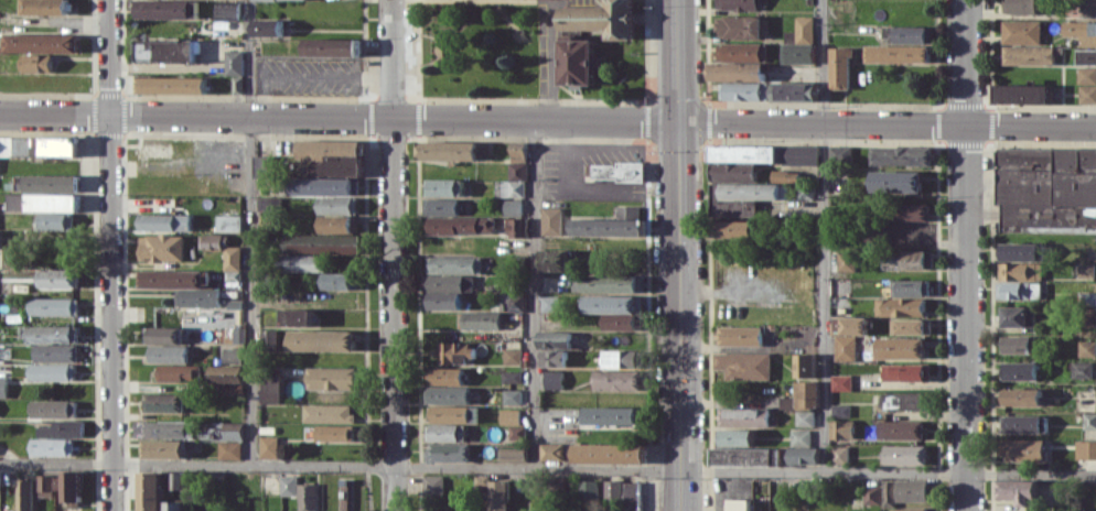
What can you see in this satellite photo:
building: (280, 0)
building: (741, 4)
building: (44, 7)
building: (1023, 7)
building: (1086, 8)
building: (168, 9)
building: (228, 11)
road: (56, 20)
building: (268, 26)
building: (741, 26)
building: (1079, 28)
building: (804, 29)
building: (1022, 31)
building: (890, 34)
building: (913, 34)
building: (39, 43)
building: (332, 46)
building: (166, 50)
building: (742, 51)
building: (798, 53)
building: (899, 53)
building: (1029, 54)
building: (1087, 55)
building: (571, 56)
road: (549, 57)
road: (250, 58)
building: (36, 62)
building: (234, 62)
building: (840, 67)
building: (738, 70)
building: (1086, 74)
road: (307, 76)
building: (172, 84)
building: (237, 84)
building: (744, 90)
building: (794, 90)
building: (1023, 93)
building: (1087, 94)
road: (341, 117)
traffic signals: (683, 121)
road: (889, 122)
building: (6, 145)
building: (46, 145)
building: (837, 149)
building: (450, 150)
building: (518, 151)
building: (764, 153)
building: (904, 155)
building: (332, 156)
building: (264, 165)
building: (733, 170)
building: (614, 171)
building: (780, 175)
building: (898, 181)
building: (46, 182)
building: (513, 182)
building: (323, 185)
building: (443, 186)
building: (1047, 188)
building: (751, 191)
building: (806, 191)
building: (42, 202)
building: (269, 203)
building: (337, 204)
building: (442, 205)
building: (508, 206)
building: (911, 211)
building: (550, 220)
building: (55, 221)
building: (165, 221)
building: (228, 222)
building: (339, 224)
building: (612, 224)
building: (461, 225)
building: (517, 227)
building: (732, 228)
building: (907, 230)
road: (826, 233)
building: (214, 239)
building: (323, 242)
building: (162, 247)
building: (1021, 251)
road: (109, 254)
road: (683, 254)
road: (390, 255)
road: (964, 255)
building: (233, 258)
building: (555, 259)
building: (911, 259)
building: (846, 261)
building: (302, 262)
building: (453, 264)
building: (1021, 270)
building: (1085, 270)
building: (58, 278)
building: (174, 278)
building: (339, 281)
building: (448, 282)
building: (578, 282)
building: (613, 283)
building: (910, 286)
road: (251, 289)
building: (1019, 290)
road: (533, 292)
building: (198, 297)
building: (1087, 297)
building: (442, 300)
building: (516, 301)
building: (550, 303)
building: (613, 303)
building: (54, 306)
building: (901, 306)
building: (1019, 316)
building: (298, 317)
building: (482, 319)
building: (621, 322)
building: (911, 326)
building: (53, 334)
building: (165, 334)
building: (234, 334)
building: (740, 335)
building: (847, 335)
building: (555, 338)
building: (323, 340)
building: (1018, 344)
building: (902, 347)
building: (1087, 348)
building: (455, 351)
building: (55, 352)
building: (168, 354)
building: (512, 356)
building: (554, 358)
building: (623, 358)
building: (743, 365)
building: (805, 365)
building: (1082, 369)
building: (1020, 370)
building: (52, 371)
building: (905, 371)
building: (180, 372)
building: (228, 373)
building: (447, 376)
building: (512, 376)
building: (332, 378)
building: (554, 379)
building: (616, 379)
building: (841, 382)
building: (2, 385)
building: (233, 388)
building: (448, 394)
building: (808, 394)
building: (512, 395)
building: (1022, 396)
building: (904, 400)
building: (162, 402)
building: (787, 402)
building: (53, 409)
building: (840, 410)
building: (327, 413)
building: (454, 413)
building: (612, 414)
building: (744, 415)
building: (509, 416)
building: (805, 417)
building: (1089, 420)
building: (1023, 423)
building: (165, 427)
building: (62, 428)
building: (842, 428)
building: (901, 428)
building: (226, 431)
building: (445, 432)
building: (517, 432)
building: (334, 433)
building: (800, 434)
building: (737, 437)
building: (52, 446)
building: (269, 446)
building: (163, 448)
building: (1085, 448)
building: (229, 449)
building: (1022, 449)
building: (448, 452)
building: (552, 452)
building: (609, 453)
building: (840, 453)
building: (514, 454)
building: (905, 454)
building: (805, 455)
building: (746, 456)
road: (548, 465)
building: (433, 483)
building: (44, 485)
building: (289, 485)
building: (69, 486)
building: (588, 489)
building: (613, 489)
building: (904, 490)
building: (1019, 490)
building: (149, 491)
building: (23, 494)
building: (499, 494)
building: (872, 494)
building: (308, 497)
building: (631, 497)
building: (738, 504)
building: (174, 505)
building: (910, 509)

